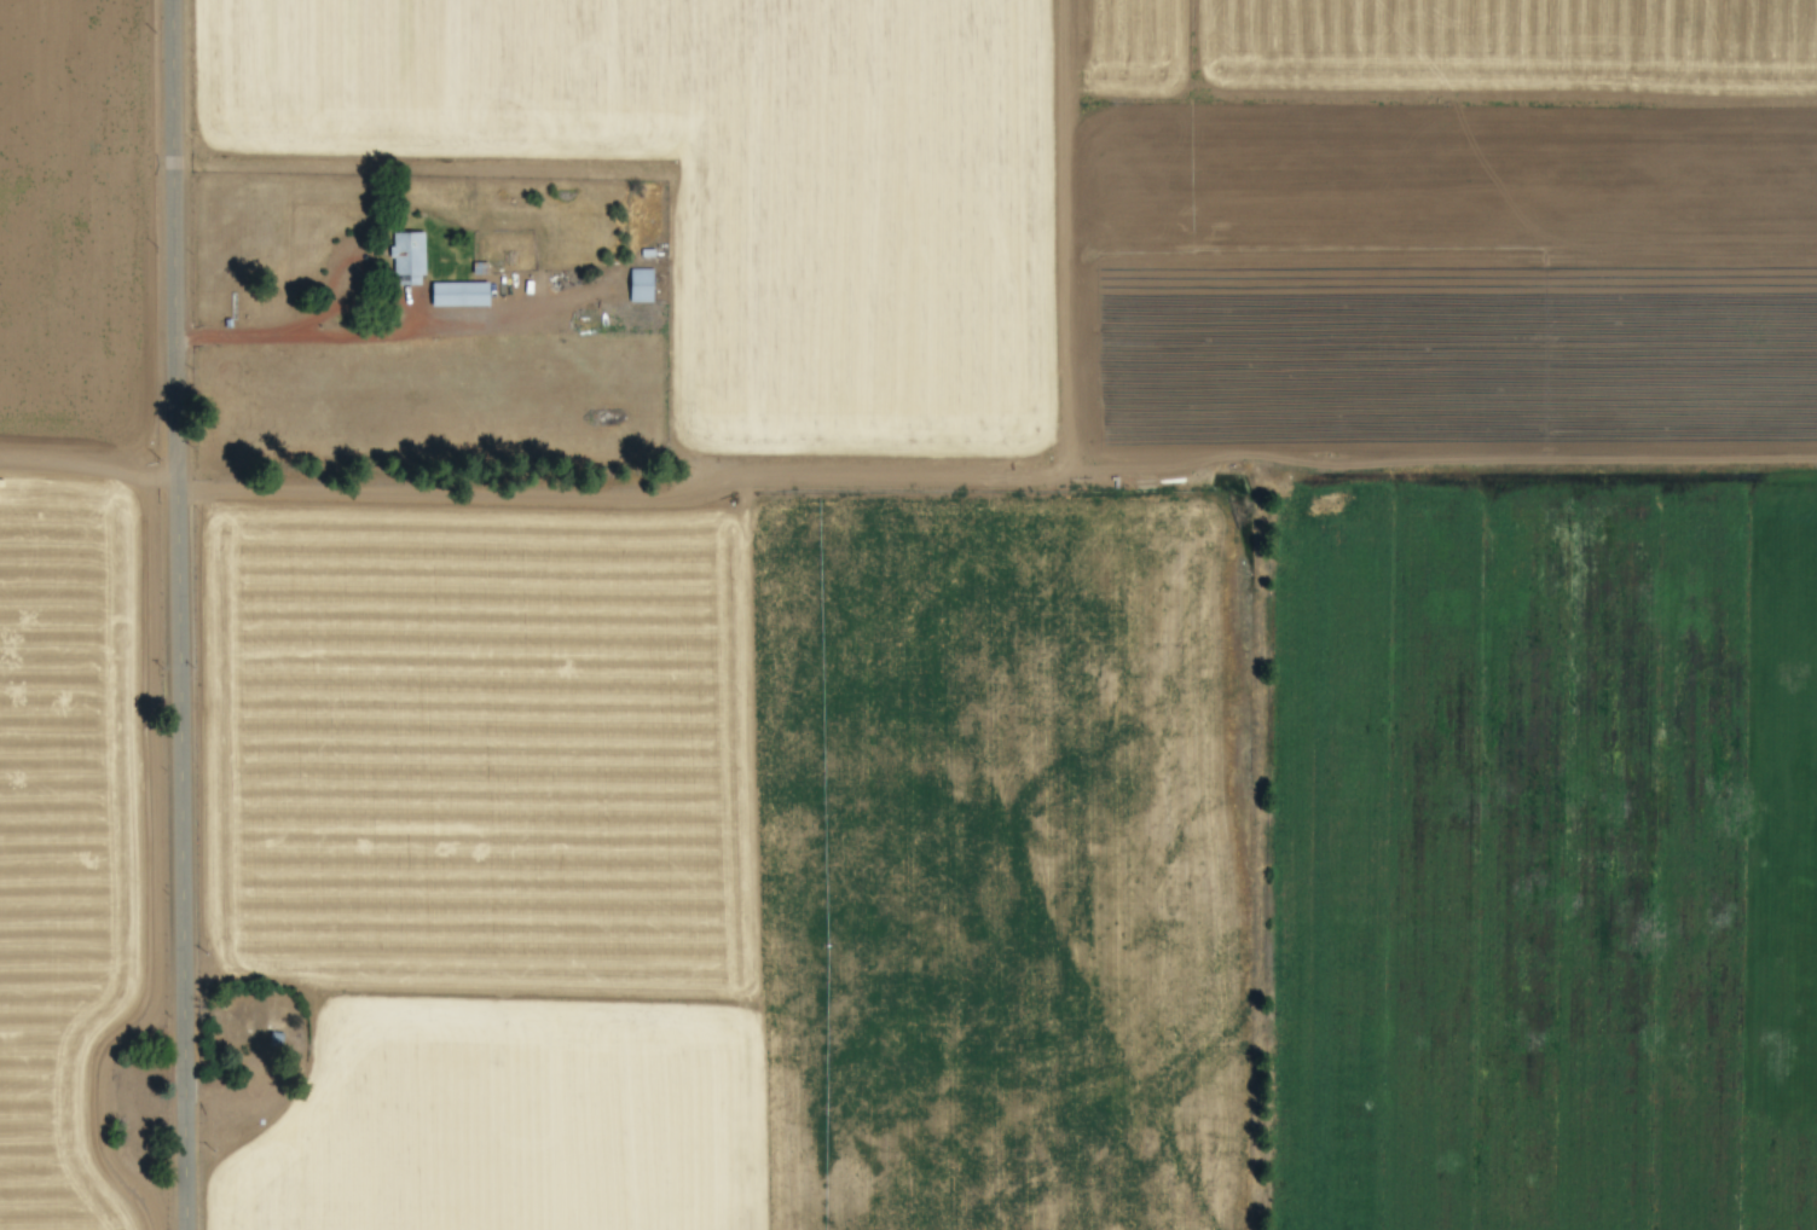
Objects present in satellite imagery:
building: (409, 260)
building: (642, 286)
building: (461, 296)
road: (166, 615)

